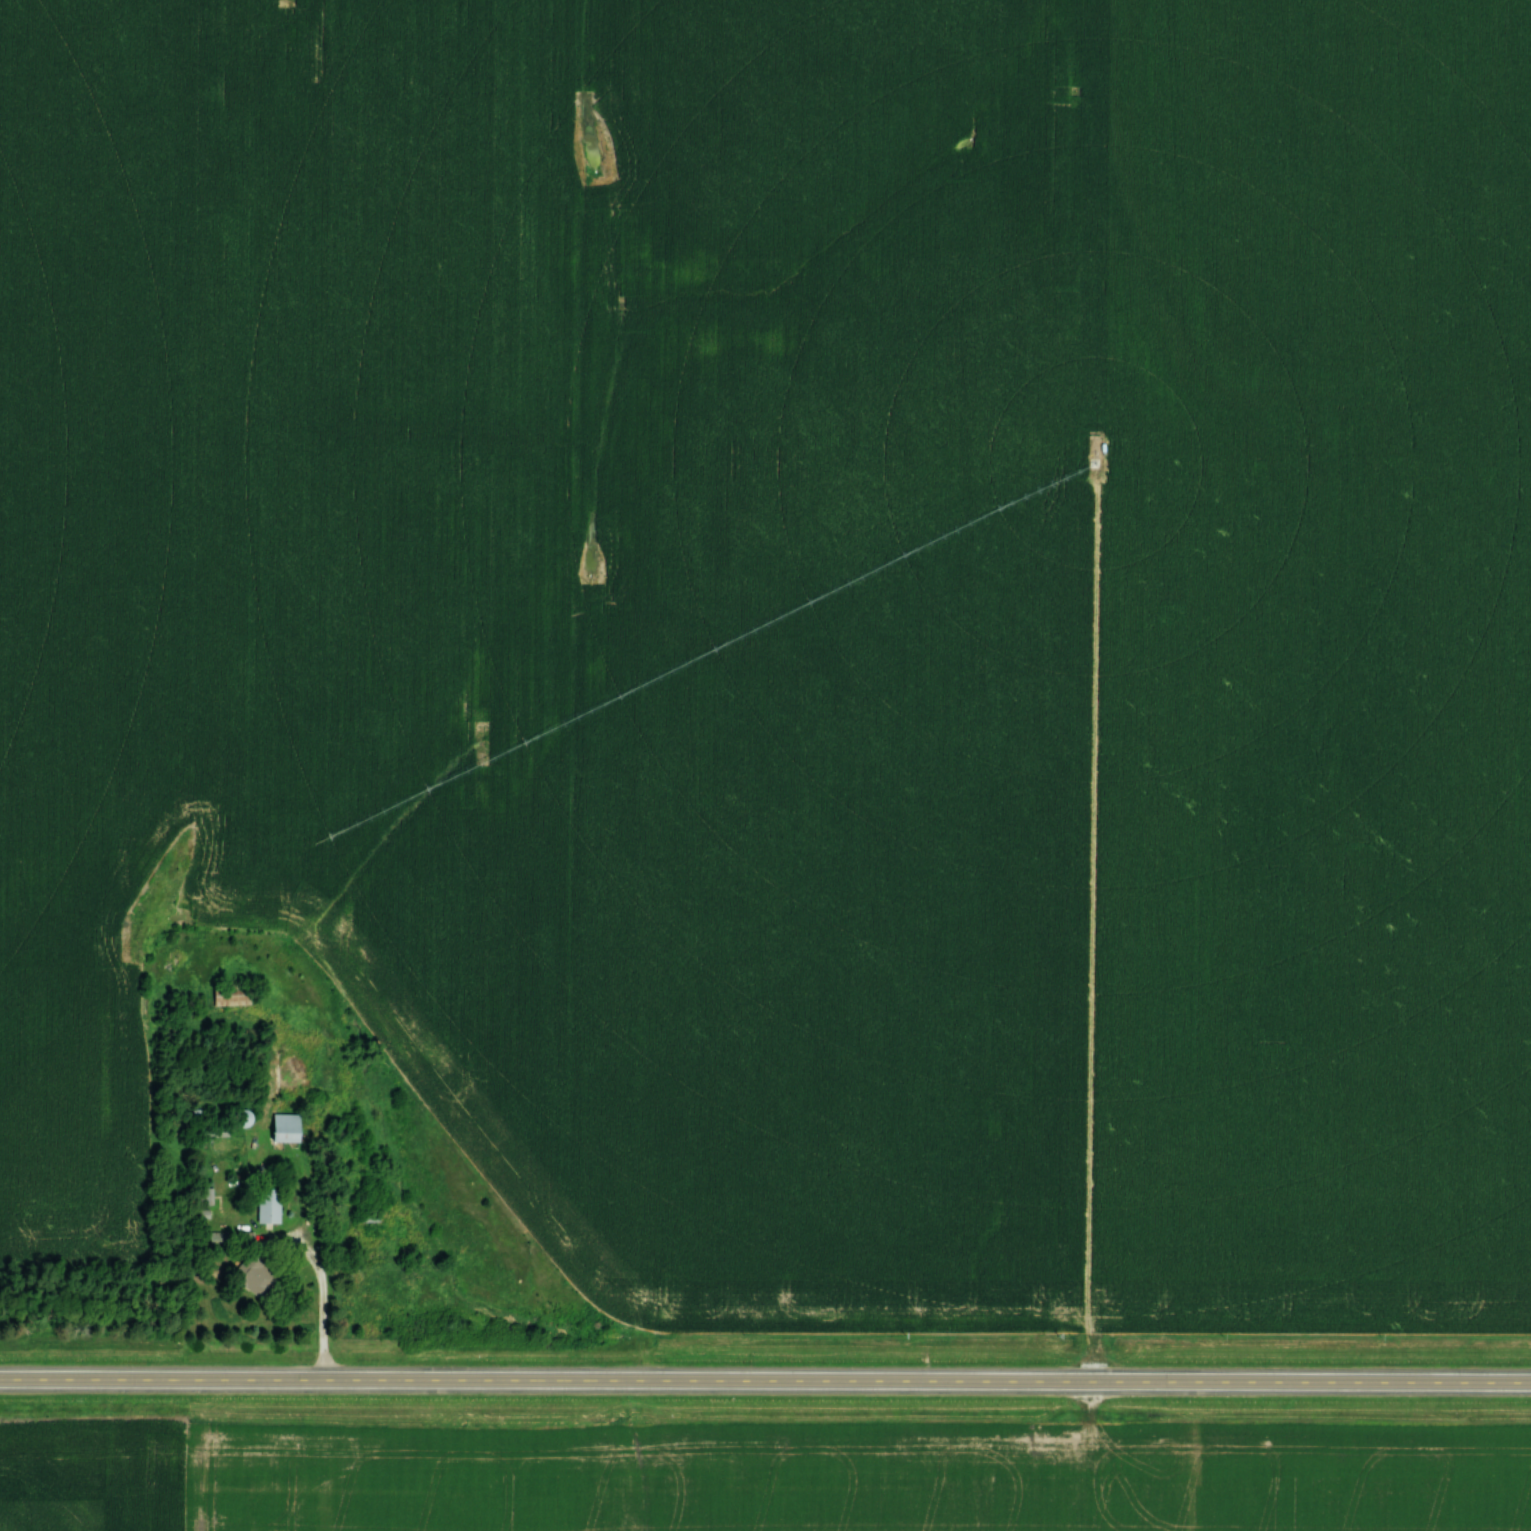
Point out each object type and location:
building: (236, 995)
building: (272, 1207)
building: (256, 1276)
road: (323, 1297)
road: (765, 1386)

